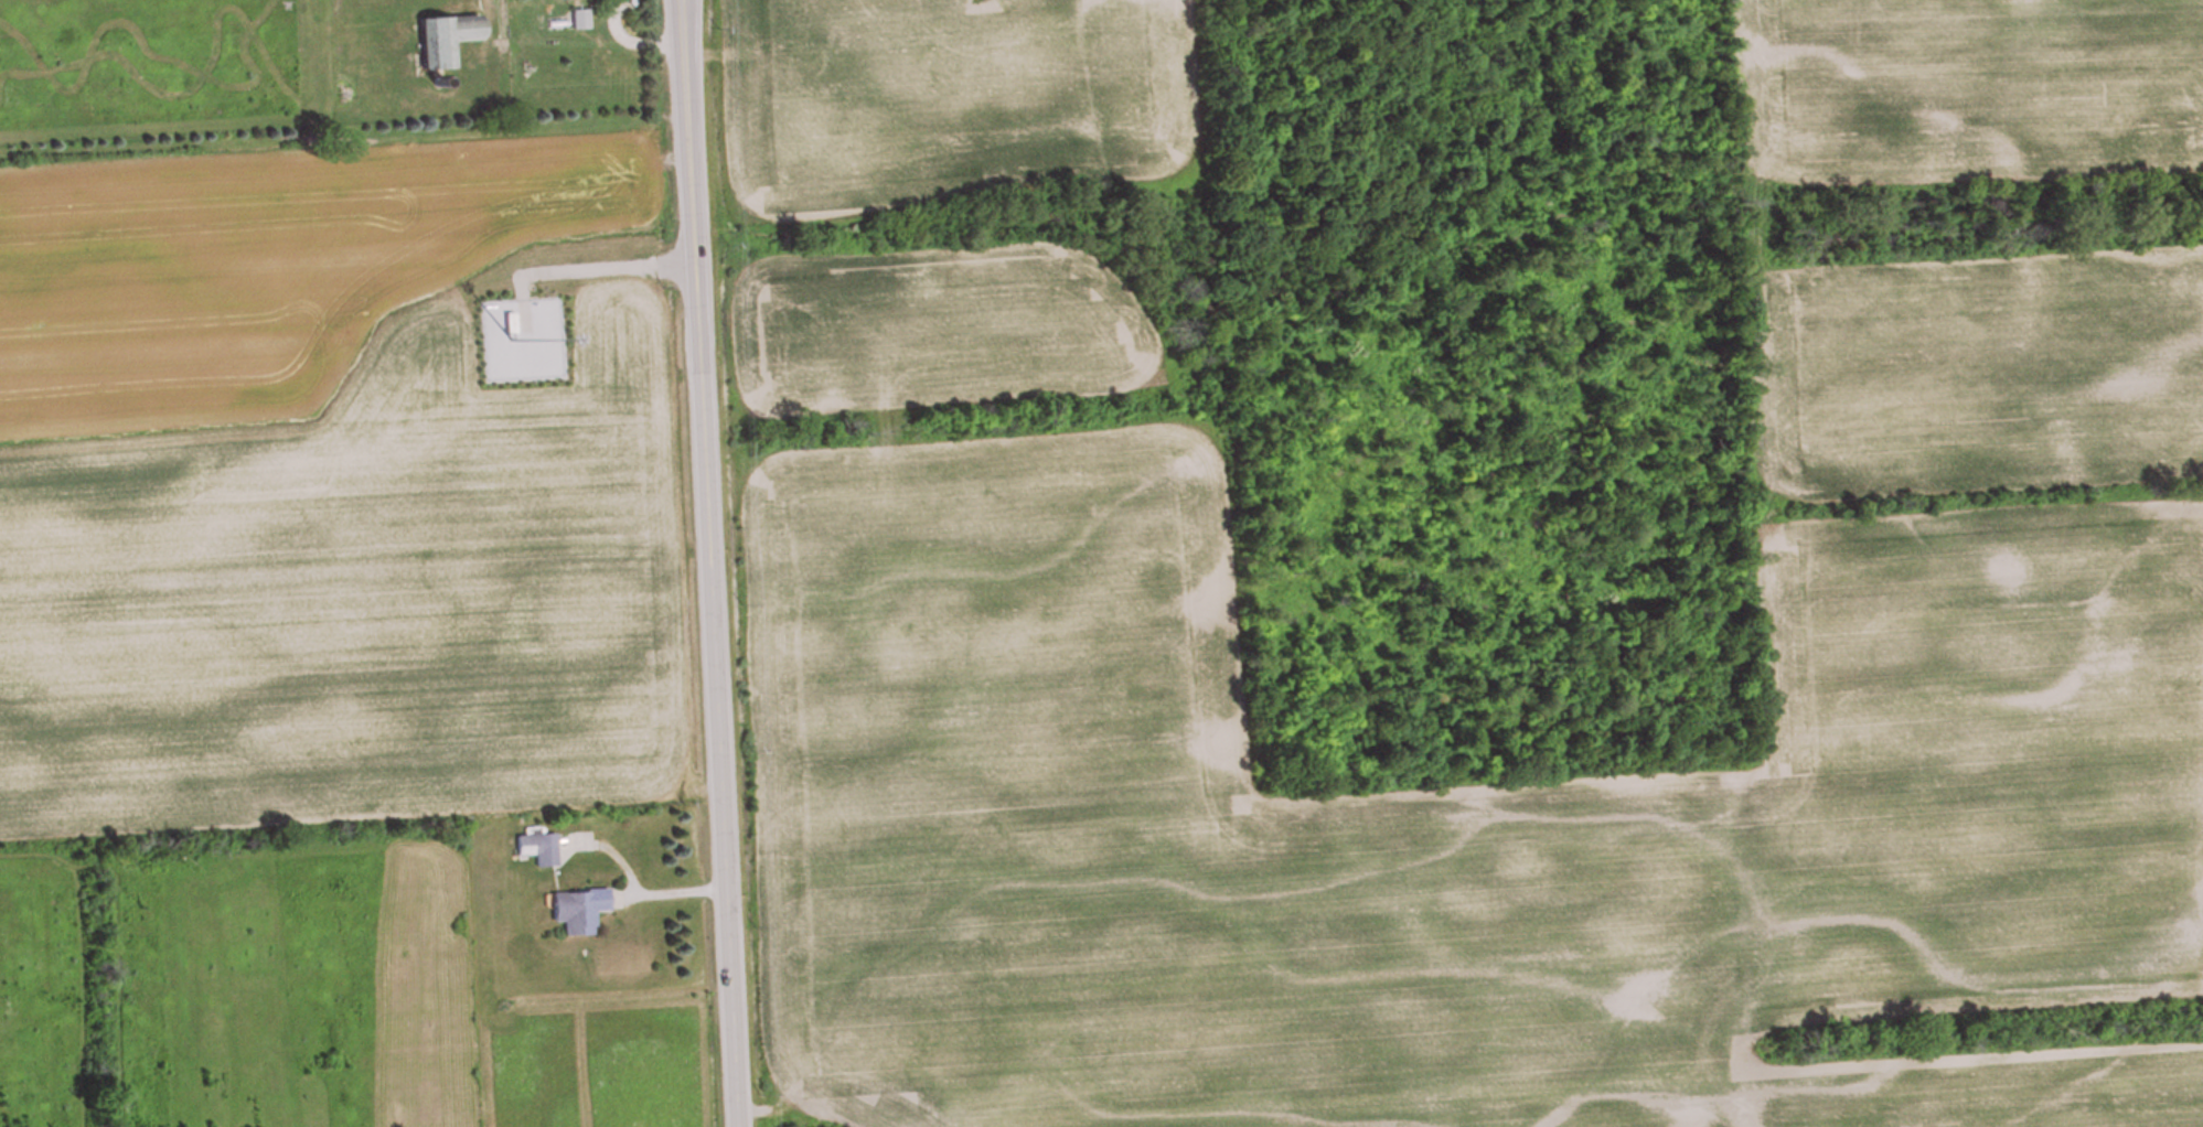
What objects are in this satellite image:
building: (579, 21)
building: (442, 39)
road: (705, 563)
building: (538, 849)
building: (577, 912)

